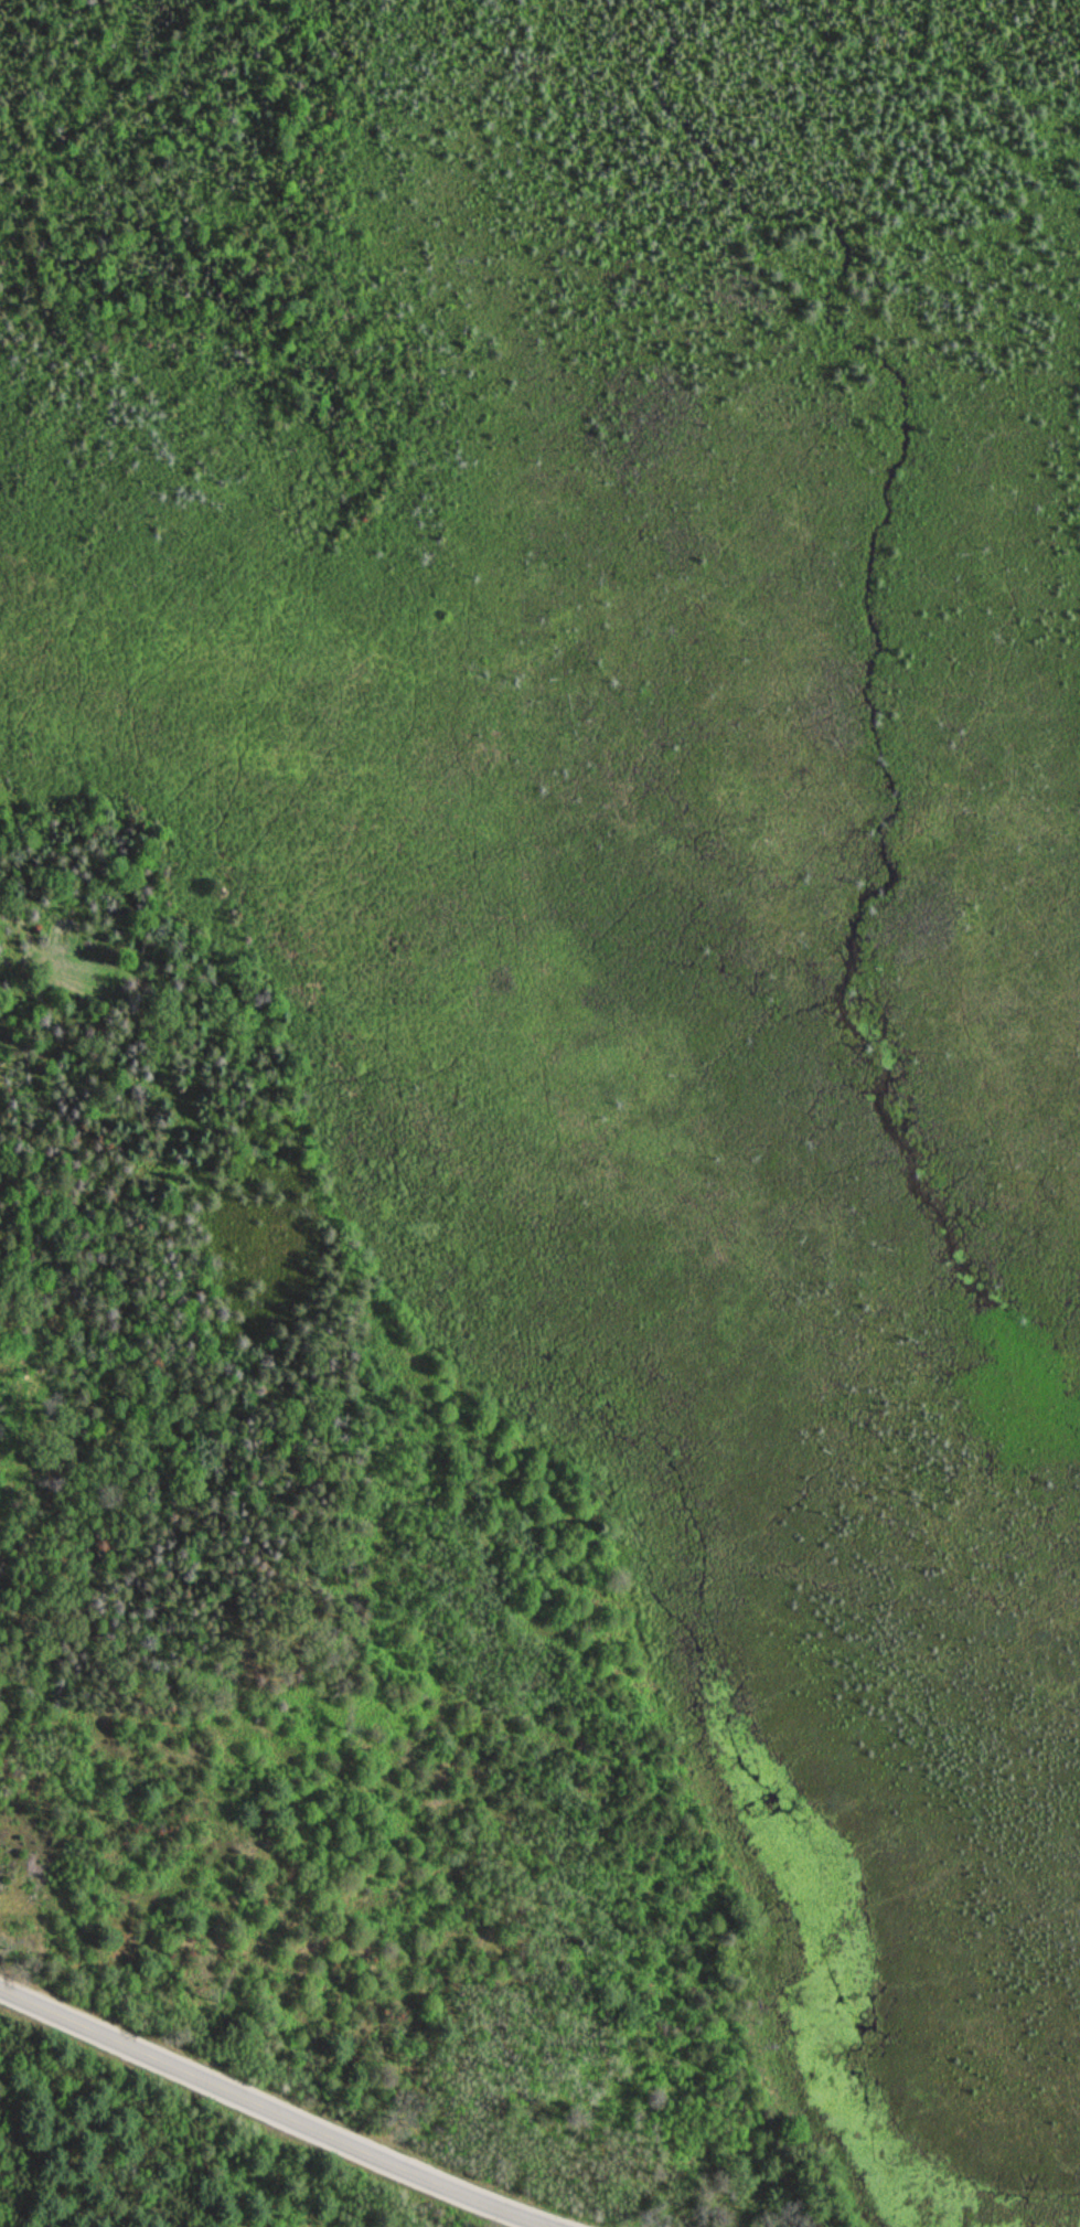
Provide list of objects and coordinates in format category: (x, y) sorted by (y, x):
road: (274, 2111)

